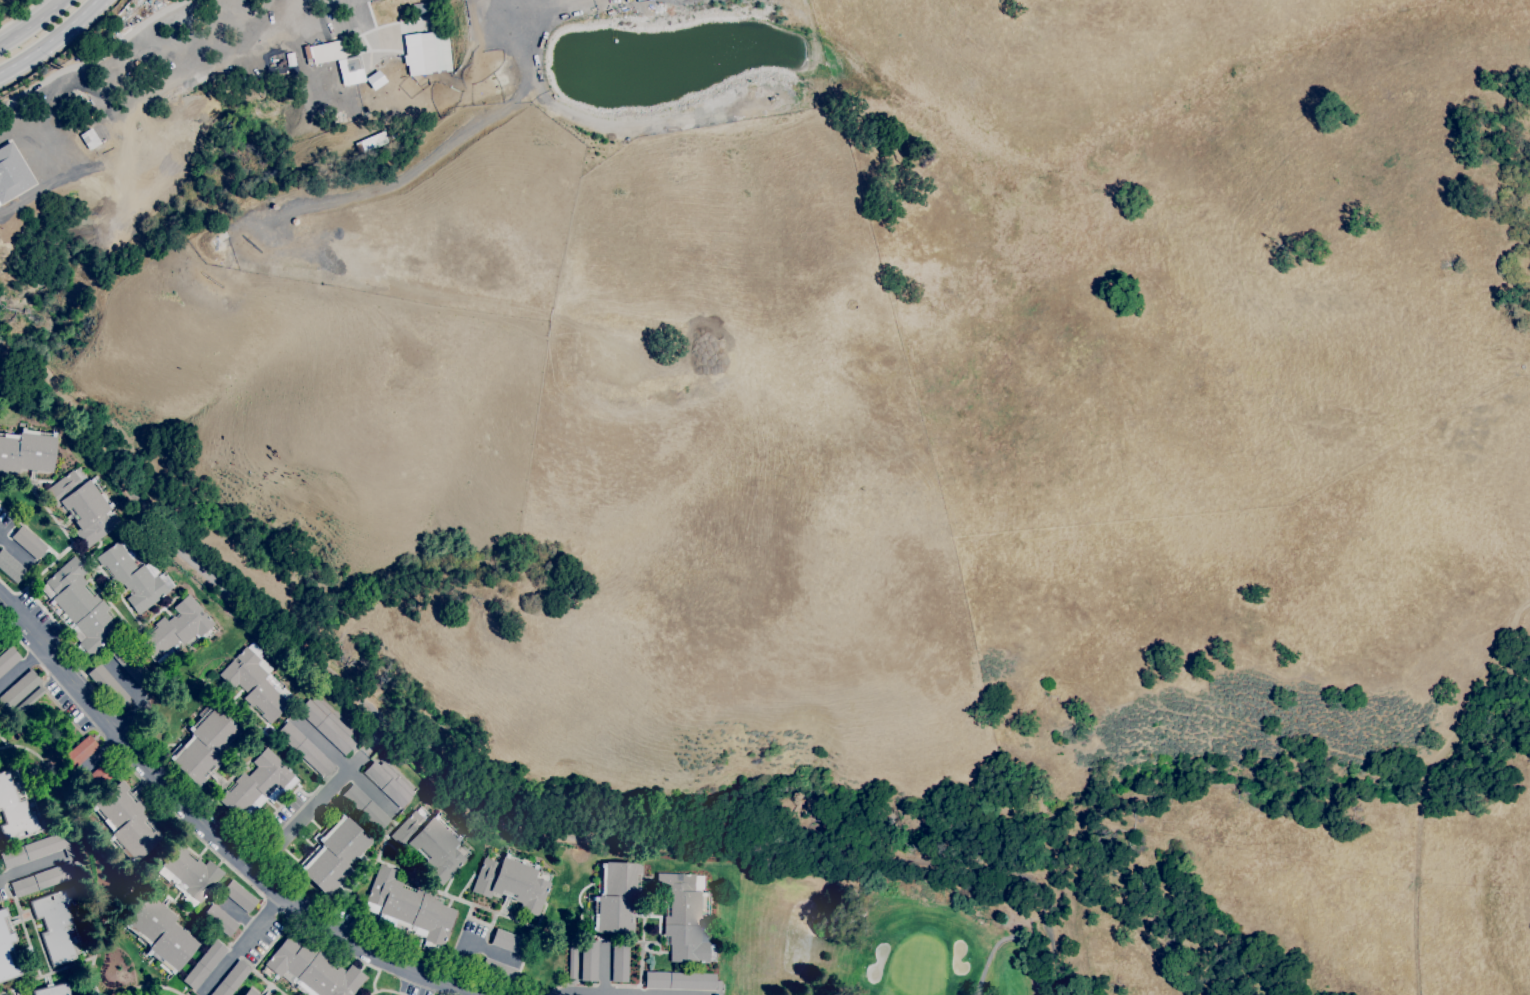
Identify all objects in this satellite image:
park: (6, 4)
road: (20, 14)
road: (30, 23)
road: (50, 38)
building: (420, 53)
road: (97, 66)
building: (18, 114)
building: (12, 172)
building: (27, 451)
building: (83, 505)
building: (28, 542)
road: (14, 550)
building: (11, 567)
building: (134, 577)
building: (80, 609)
building: (177, 630)
building: (8, 659)
road: (21, 665)
building: (131, 665)
building: (256, 682)
building: (109, 687)
building: (19, 690)
building: (28, 701)
building: (327, 725)
building: (204, 745)
building: (305, 749)
building: (80, 752)
road: (343, 765)
building: (103, 772)
road: (441, 779)
building: (389, 783)
building: (258, 784)
road: (316, 797)
building: (365, 807)
building: (16, 812)
building: (126, 822)
road: (210, 832)
building: (430, 844)
building: (37, 849)
building: (335, 854)
road: (25, 870)
building: (189, 875)
building: (42, 879)
building: (512, 882)
building: (239, 895)
building: (616, 896)
building: (409, 908)
building: (684, 917)
building: (220, 920)
building: (55, 926)
park: (895, 929)
building: (161, 935)
road: (464, 941)
building: (509, 942)
road: (243, 947)
building: (7, 949)
building: (572, 959)
building: (589, 960)
building: (620, 960)
building: (204, 965)
building: (311, 968)
road: (604, 970)
building: (498, 971)
building: (232, 979)
building: (681, 980)
building: (52, 989)
building: (250, 992)
road: (612, 994)

